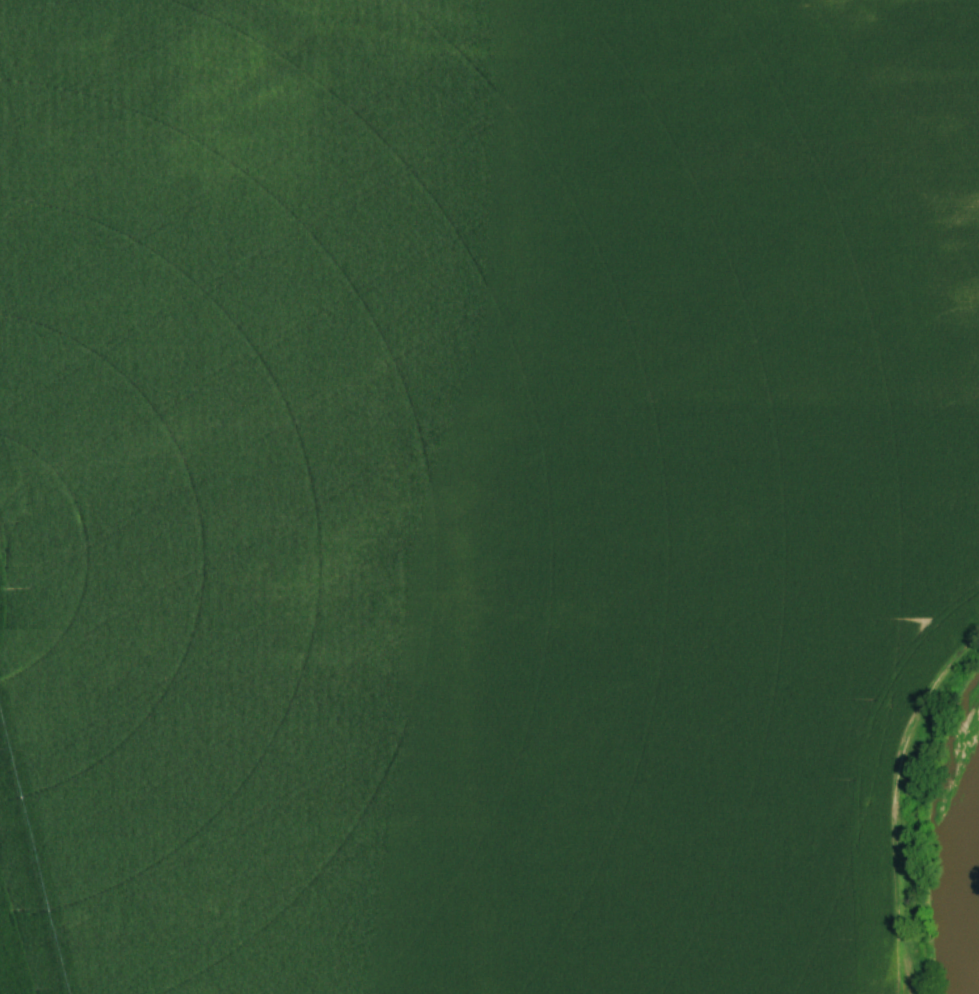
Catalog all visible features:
river: (967, 948)

